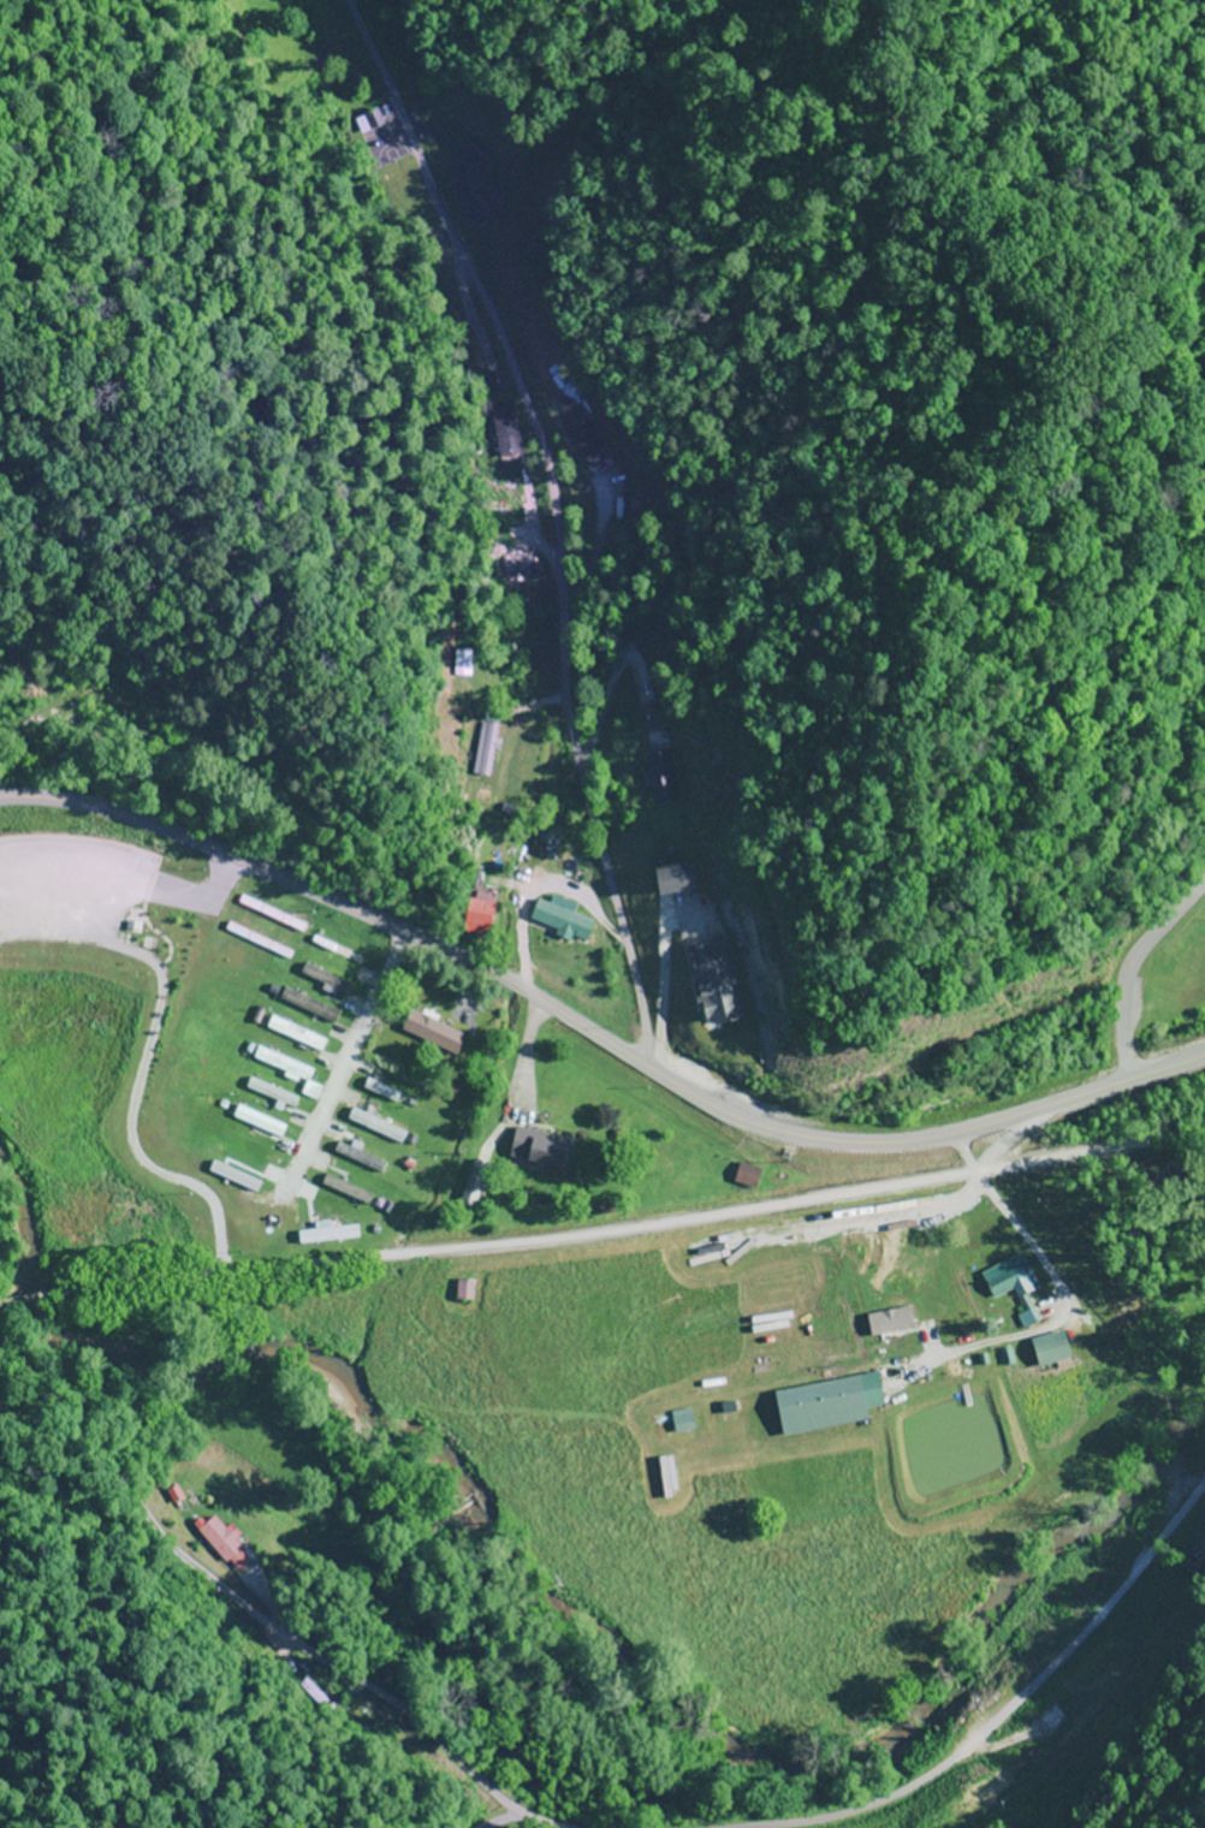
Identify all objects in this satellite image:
building: (471, 195)
building: (582, 435)
building: (509, 505)
road: (563, 521)
building: (462, 664)
building: (485, 750)
building: (658, 778)
building: (477, 915)
building: (560, 918)
building: (334, 949)
road: (1134, 979)
building: (308, 1007)
building: (433, 1031)
building: (295, 1034)
road: (595, 1038)
road: (342, 1063)
building: (271, 1093)
building: (390, 1094)
building: (257, 1123)
building: (375, 1127)
building: (536, 1149)
building: (358, 1158)
building: (746, 1175)
building: (346, 1191)
road: (604, 1228)
building: (1008, 1280)
building: (463, 1289)
road: (1074, 1311)
building: (1049, 1349)
building: (826, 1403)
building: (682, 1420)
building: (1194, 1557)
building: (1076, 1704)
road: (410, 1717)
road: (999, 1719)

